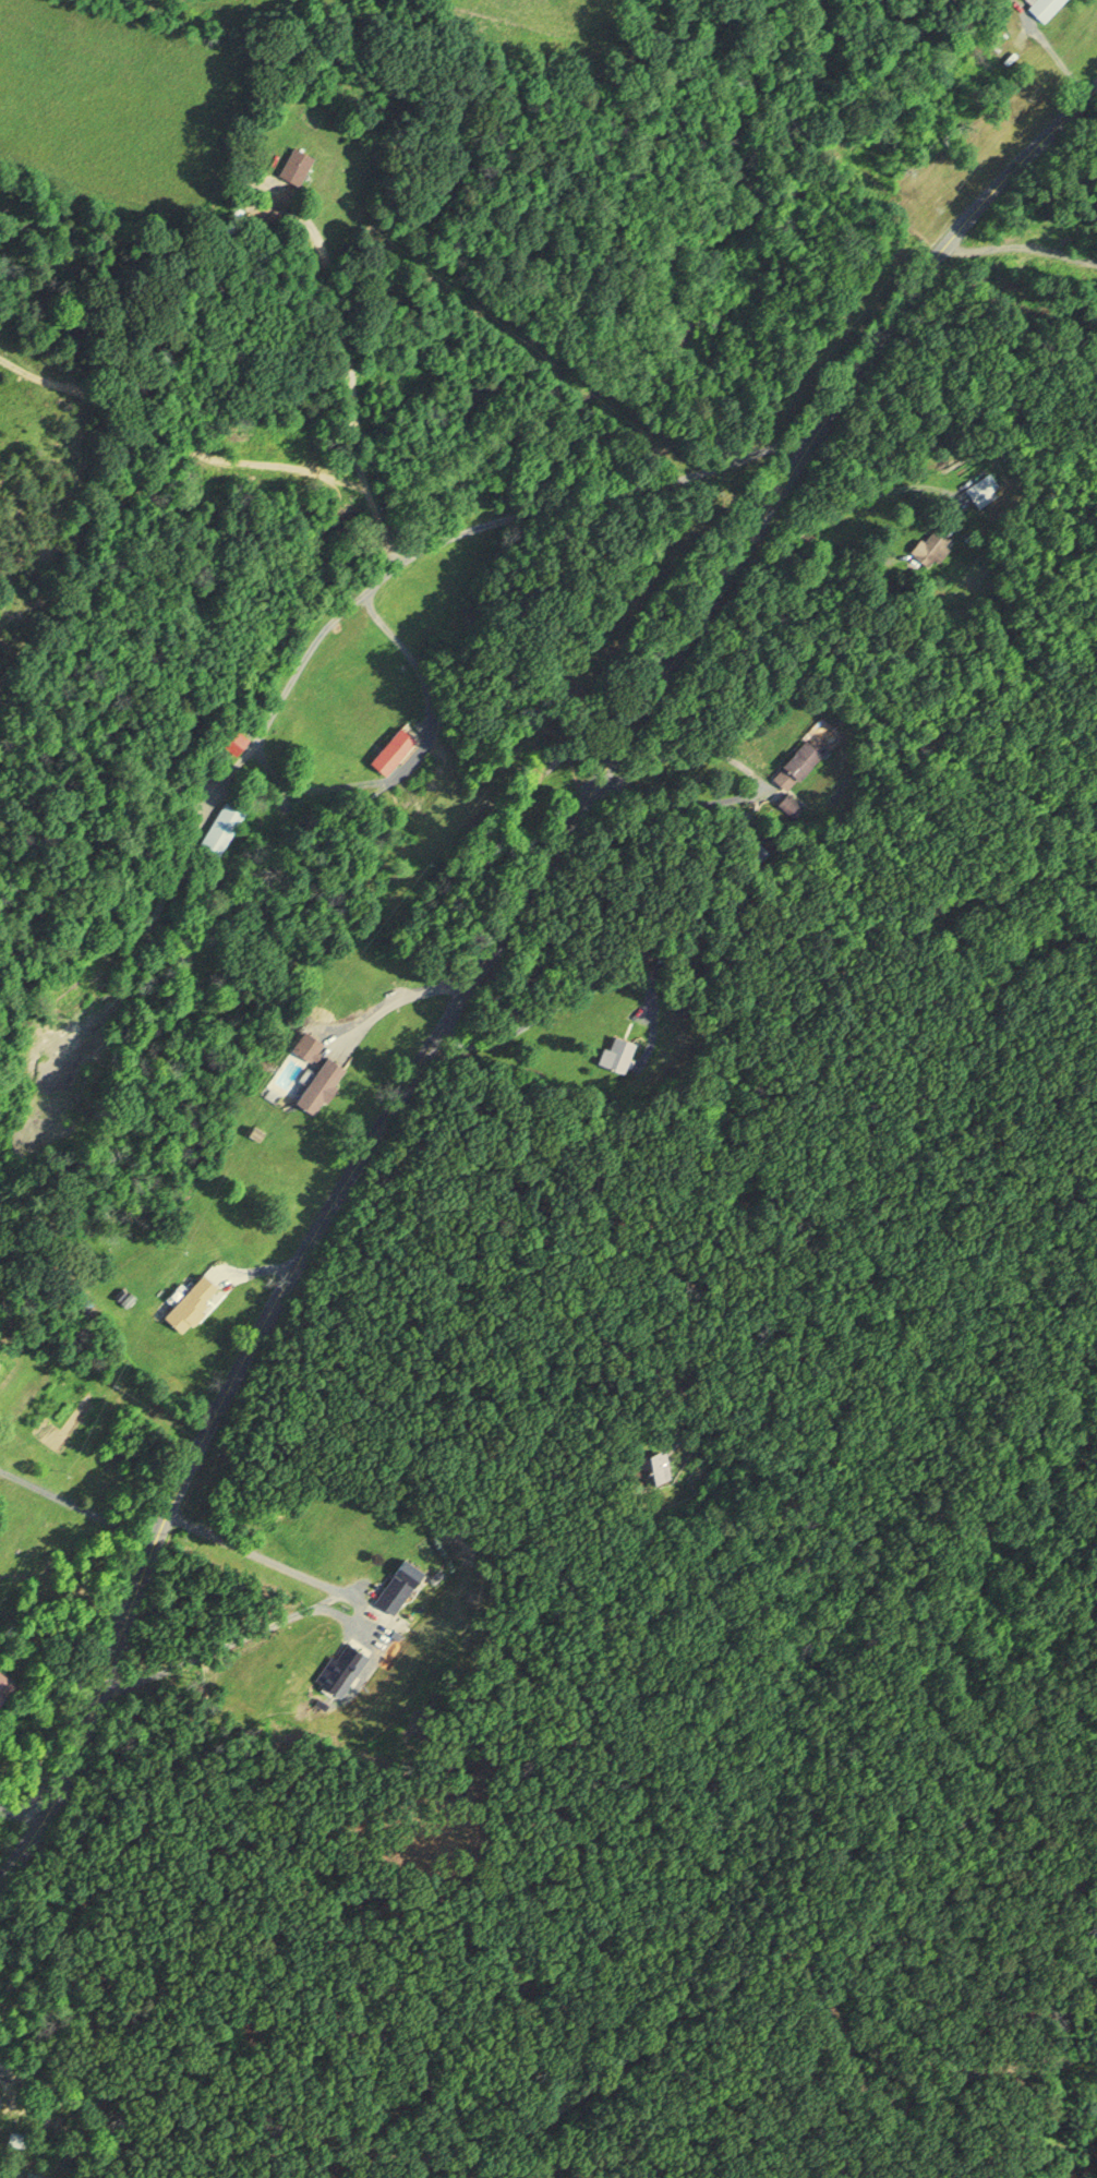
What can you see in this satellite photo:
building: (1046, 7)
building: (301, 165)
road: (1023, 251)
building: (979, 491)
building: (931, 544)
road: (334, 618)
building: (396, 750)
building: (808, 756)
building: (221, 829)
road: (505, 947)
road: (407, 995)
building: (620, 1052)
building: (325, 1083)
road: (77, 1504)
road: (321, 1607)
building: (4, 1684)

